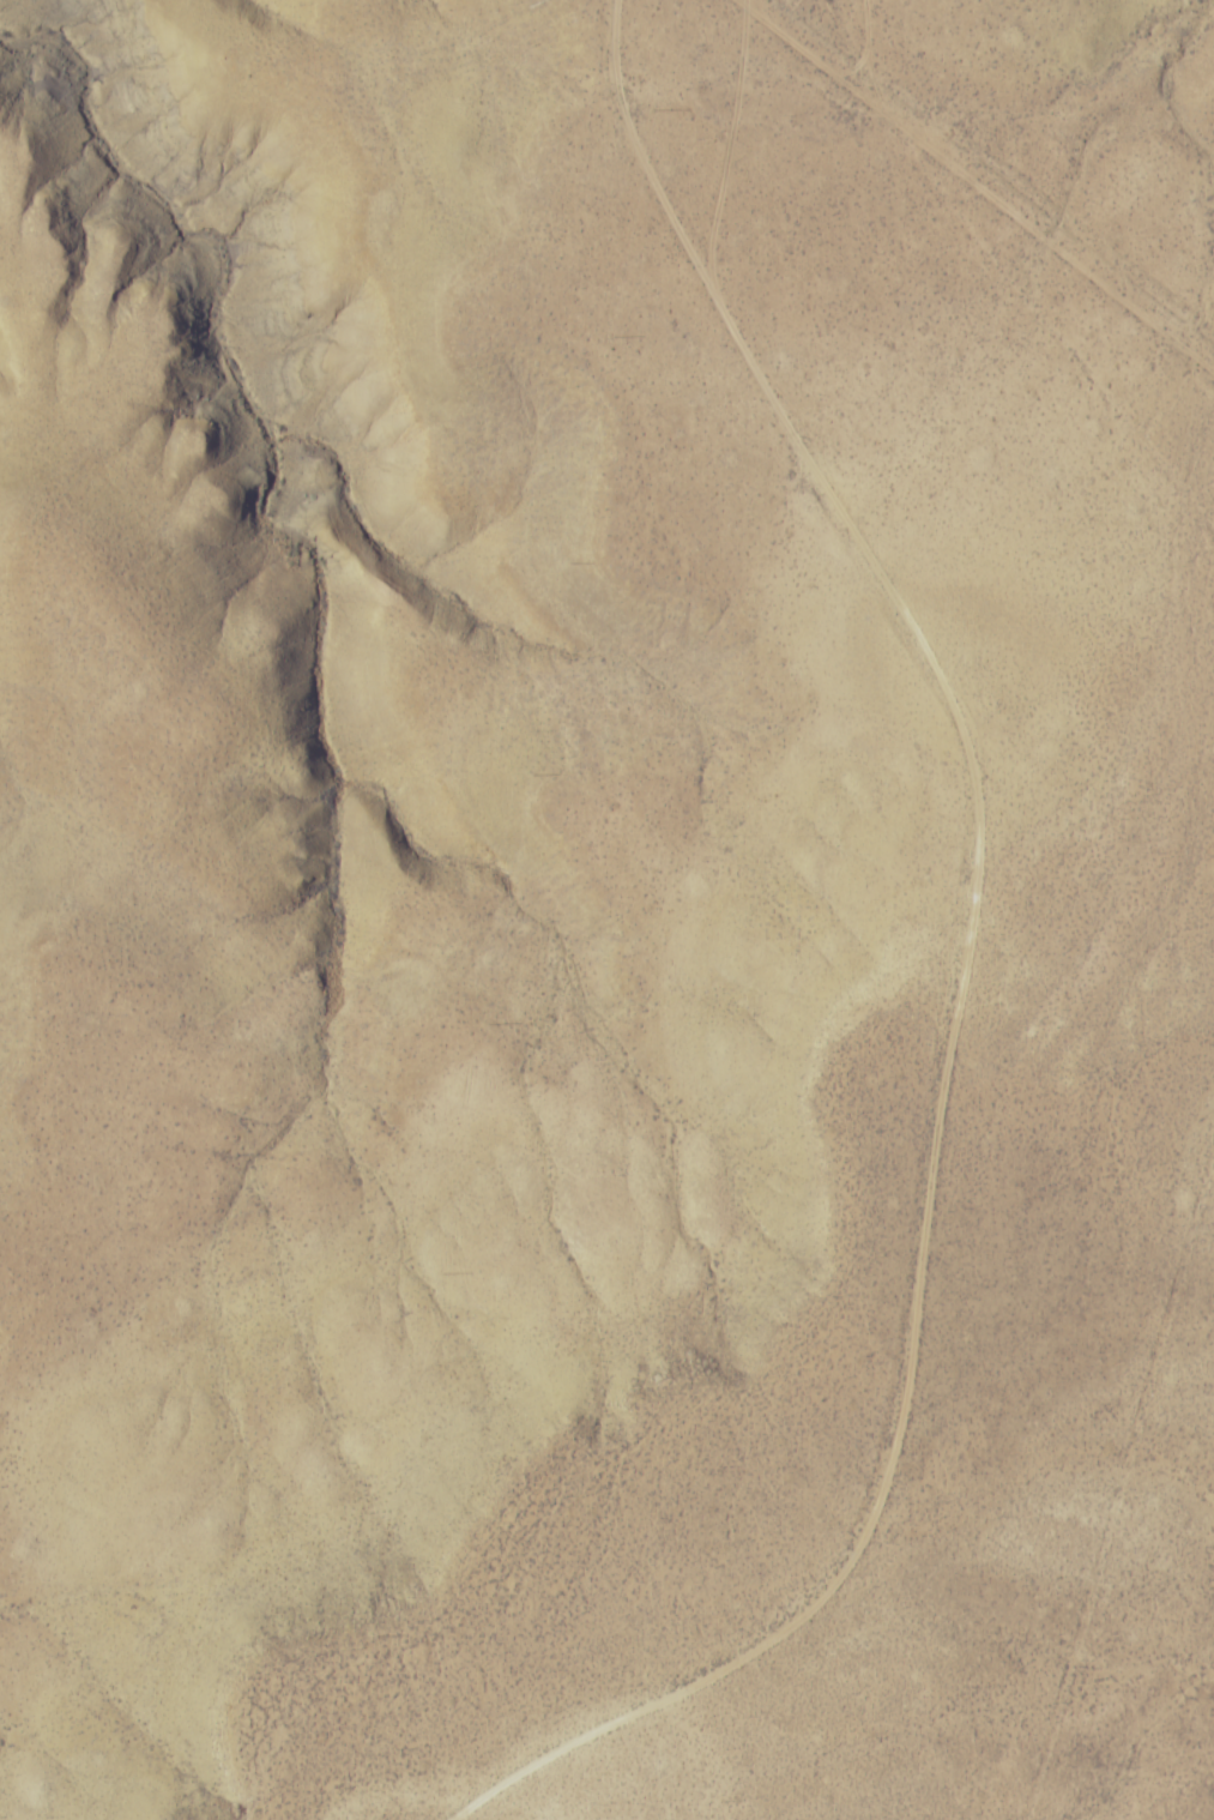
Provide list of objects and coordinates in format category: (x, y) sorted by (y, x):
road: (977, 188)
road: (962, 980)

